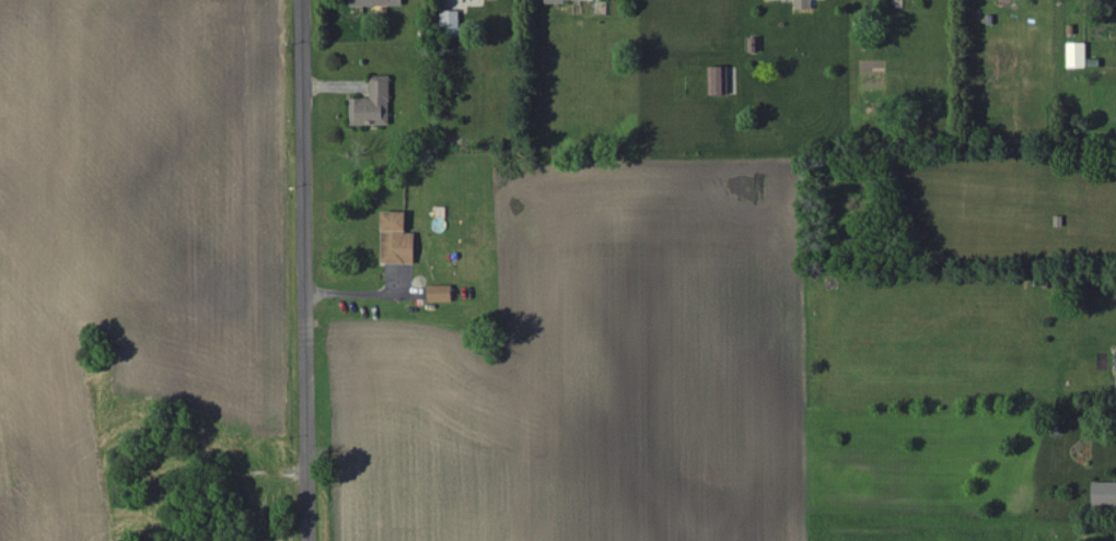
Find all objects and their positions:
building: (776, 0)
building: (561, 1)
building: (376, 3)
building: (1115, 3)
building: (804, 4)
building: (451, 21)
building: (1078, 56)
building: (720, 81)
building: (373, 105)
building: (397, 240)
road: (306, 270)
building: (441, 294)
building: (1105, 494)

